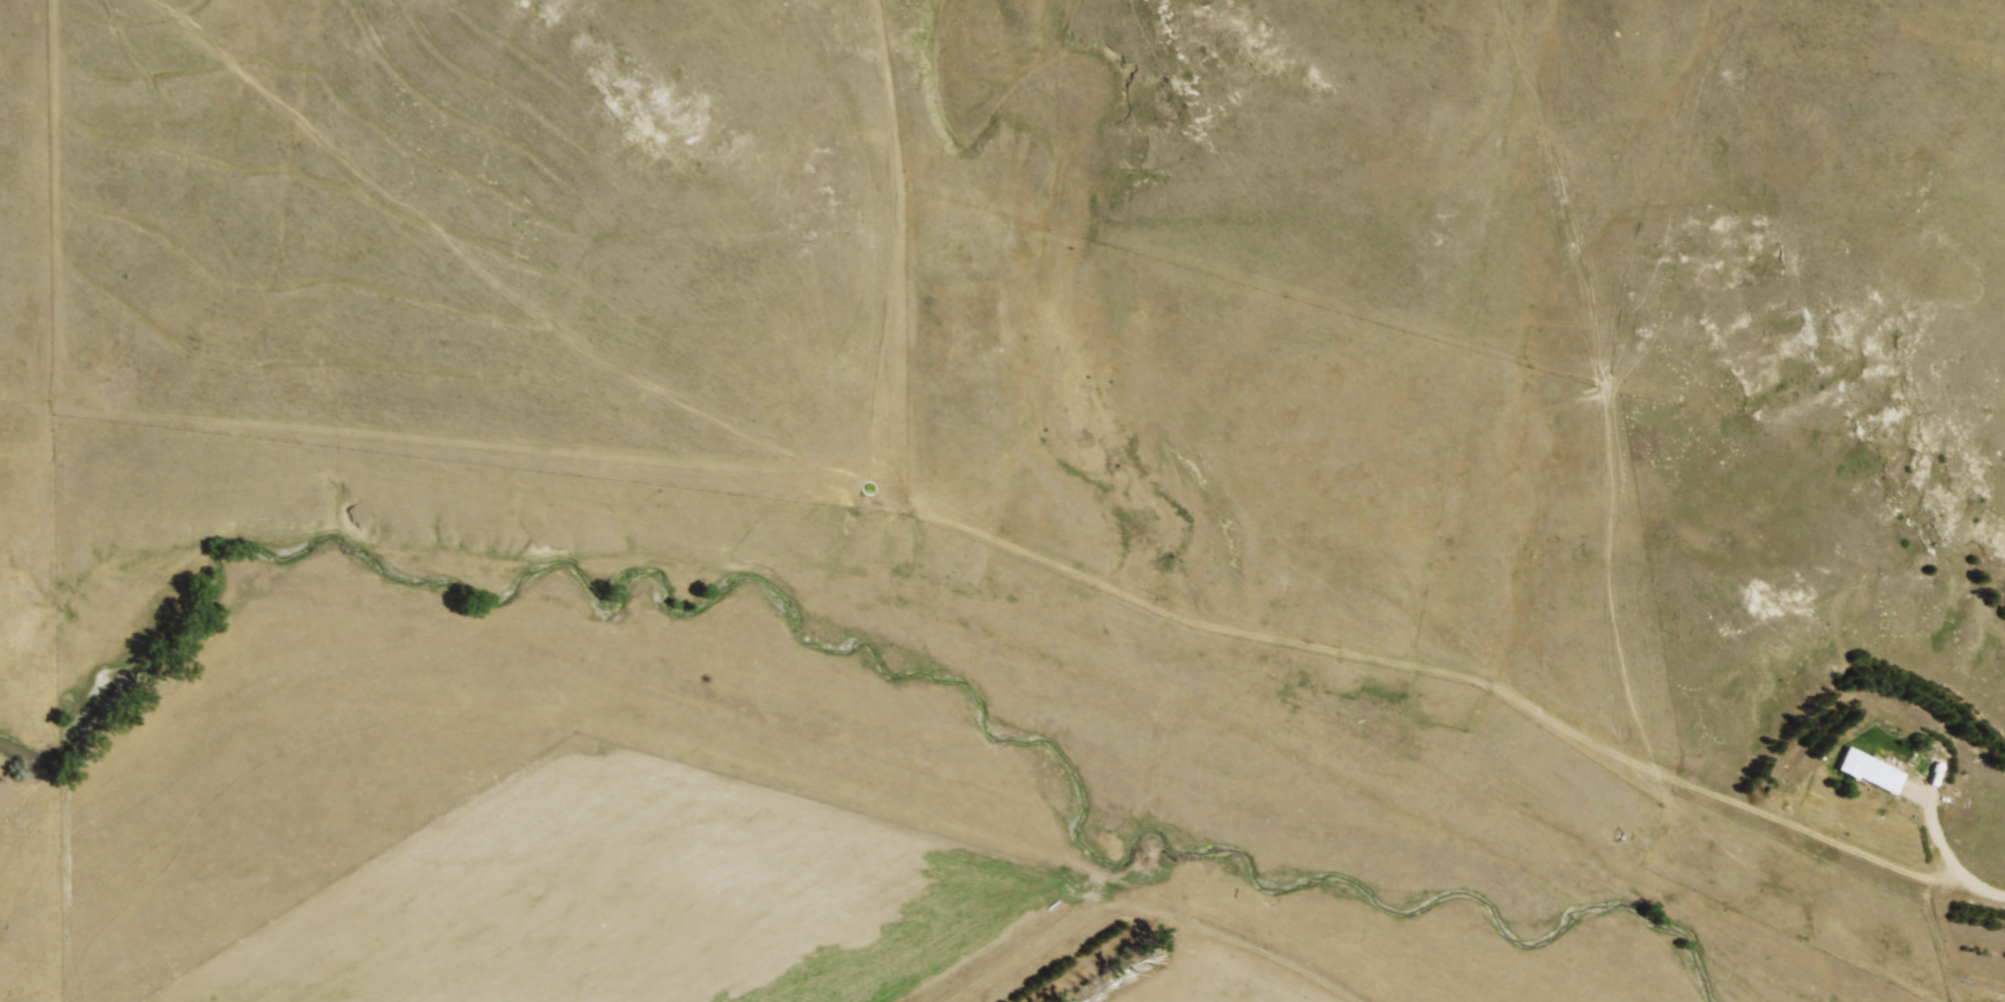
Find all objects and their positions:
building: (1870, 770)
road: (1947, 854)

